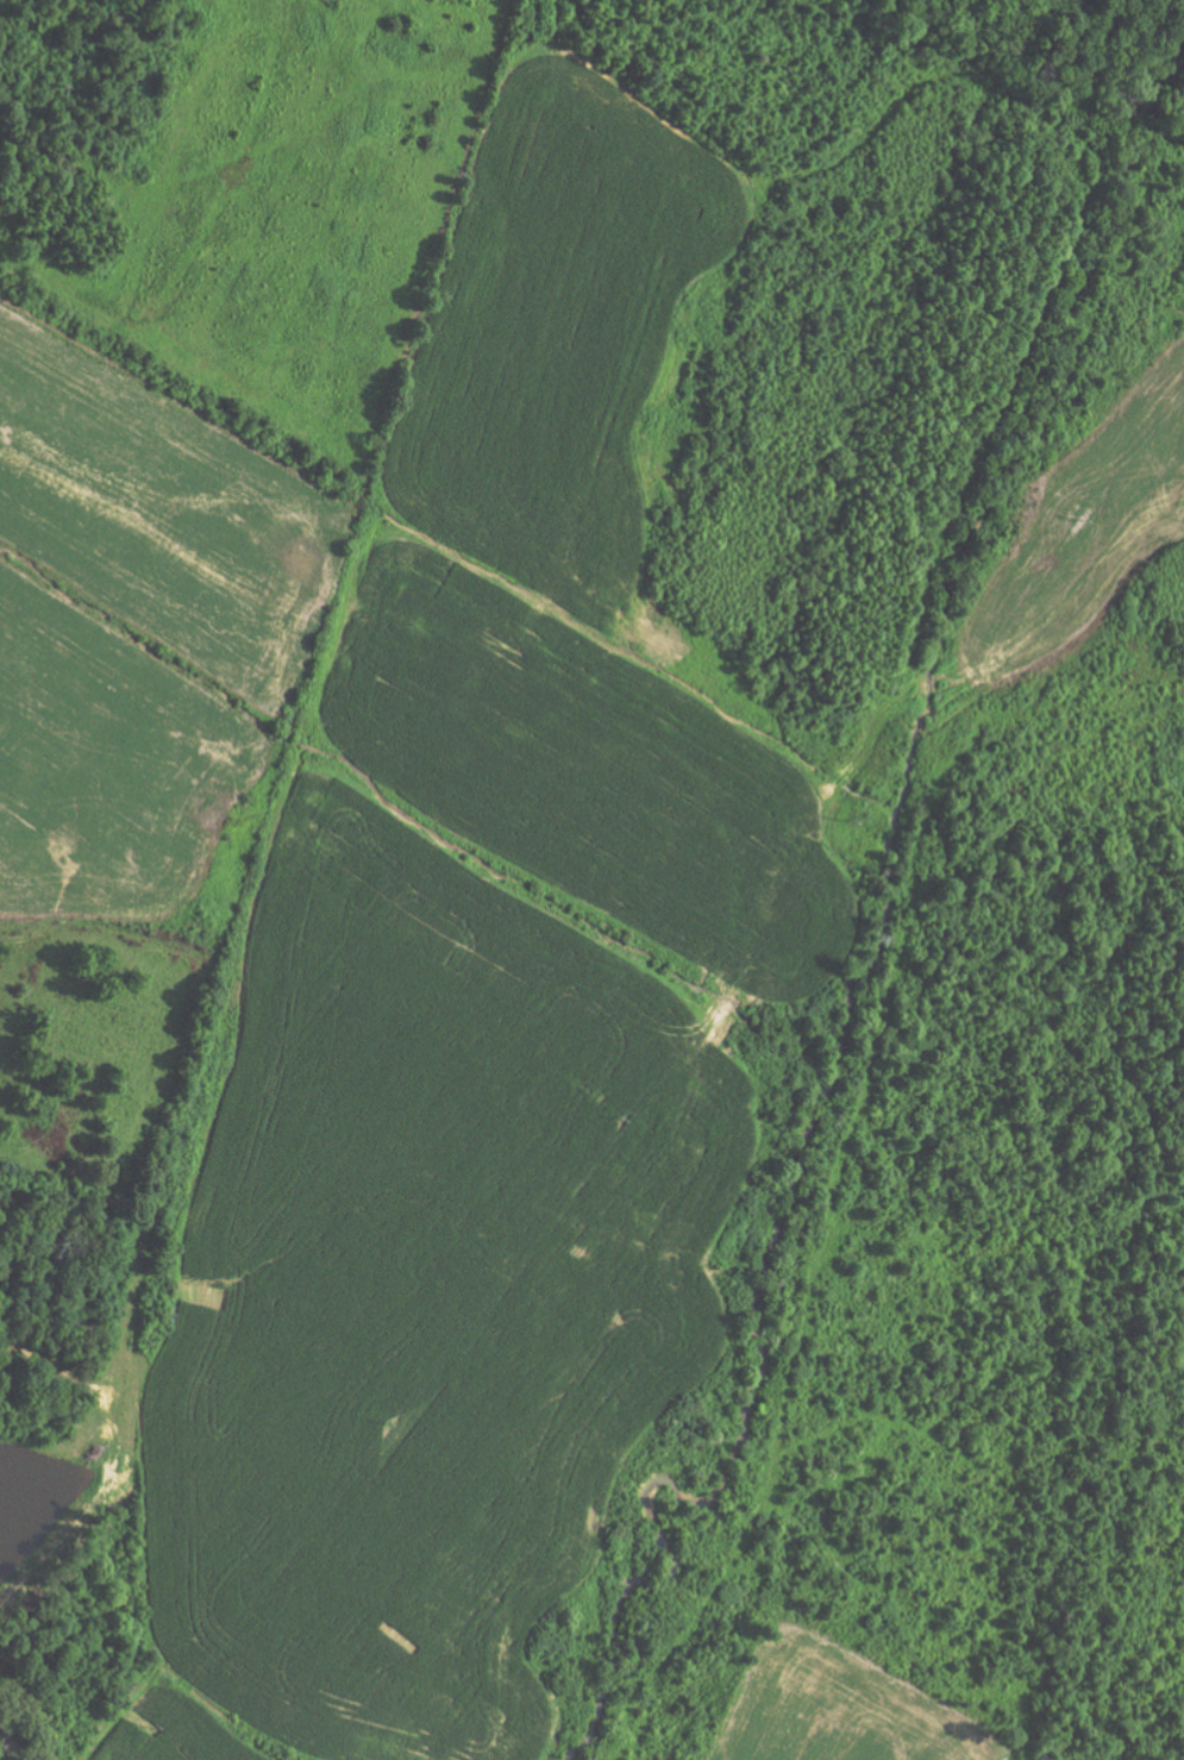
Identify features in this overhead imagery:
road: (7, 1746)

